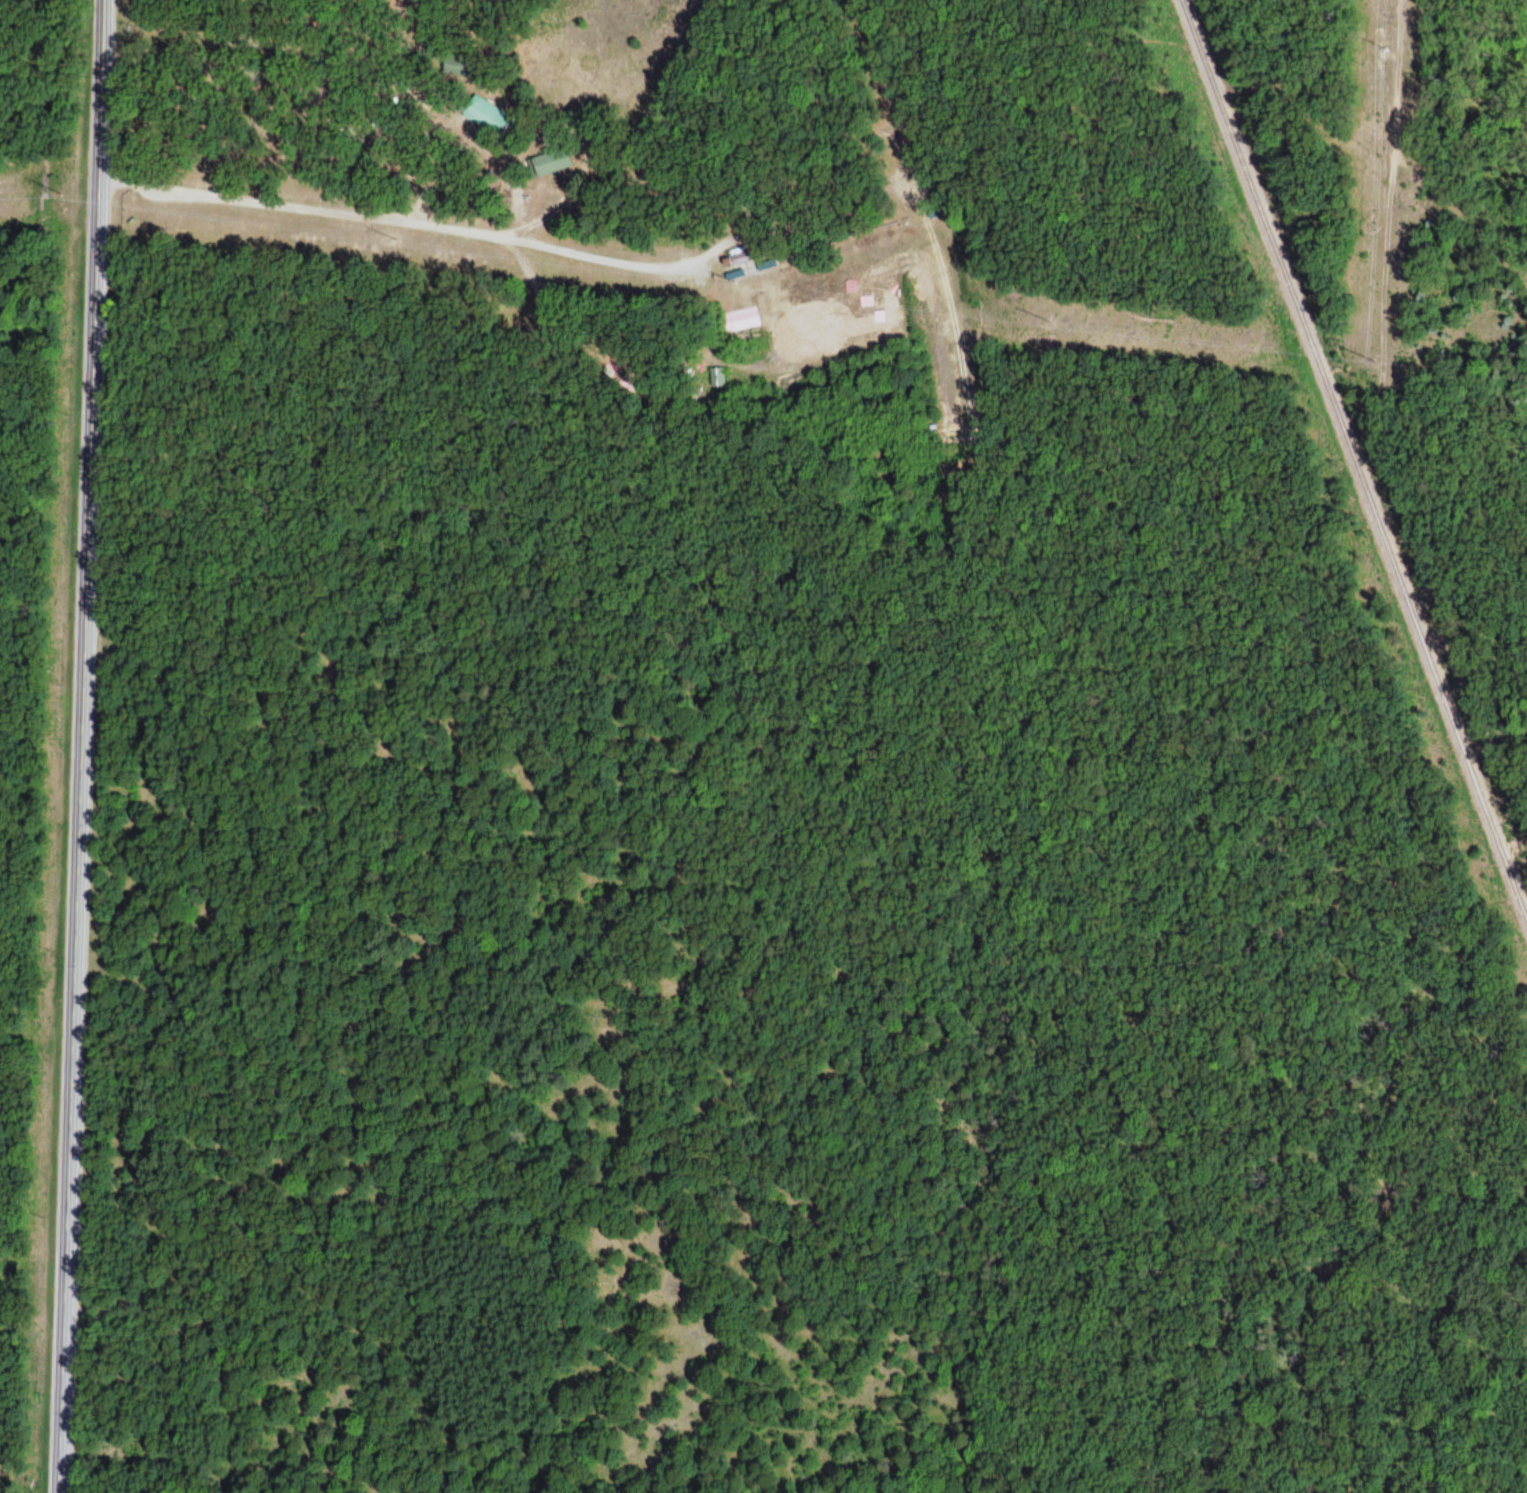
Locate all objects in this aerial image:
building: (457, 61)
building: (484, 112)
building: (546, 159)
building: (933, 188)
road: (560, 199)
building: (933, 210)
building: (732, 255)
building: (763, 262)
road: (622, 264)
building: (744, 270)
building: (731, 271)
building: (867, 301)
road: (530, 307)
building: (855, 307)
building: (880, 317)
building: (735, 320)
building: (713, 375)
building: (628, 378)
railway: (1353, 461)
road: (80, 746)
landfill: (9, 1387)

